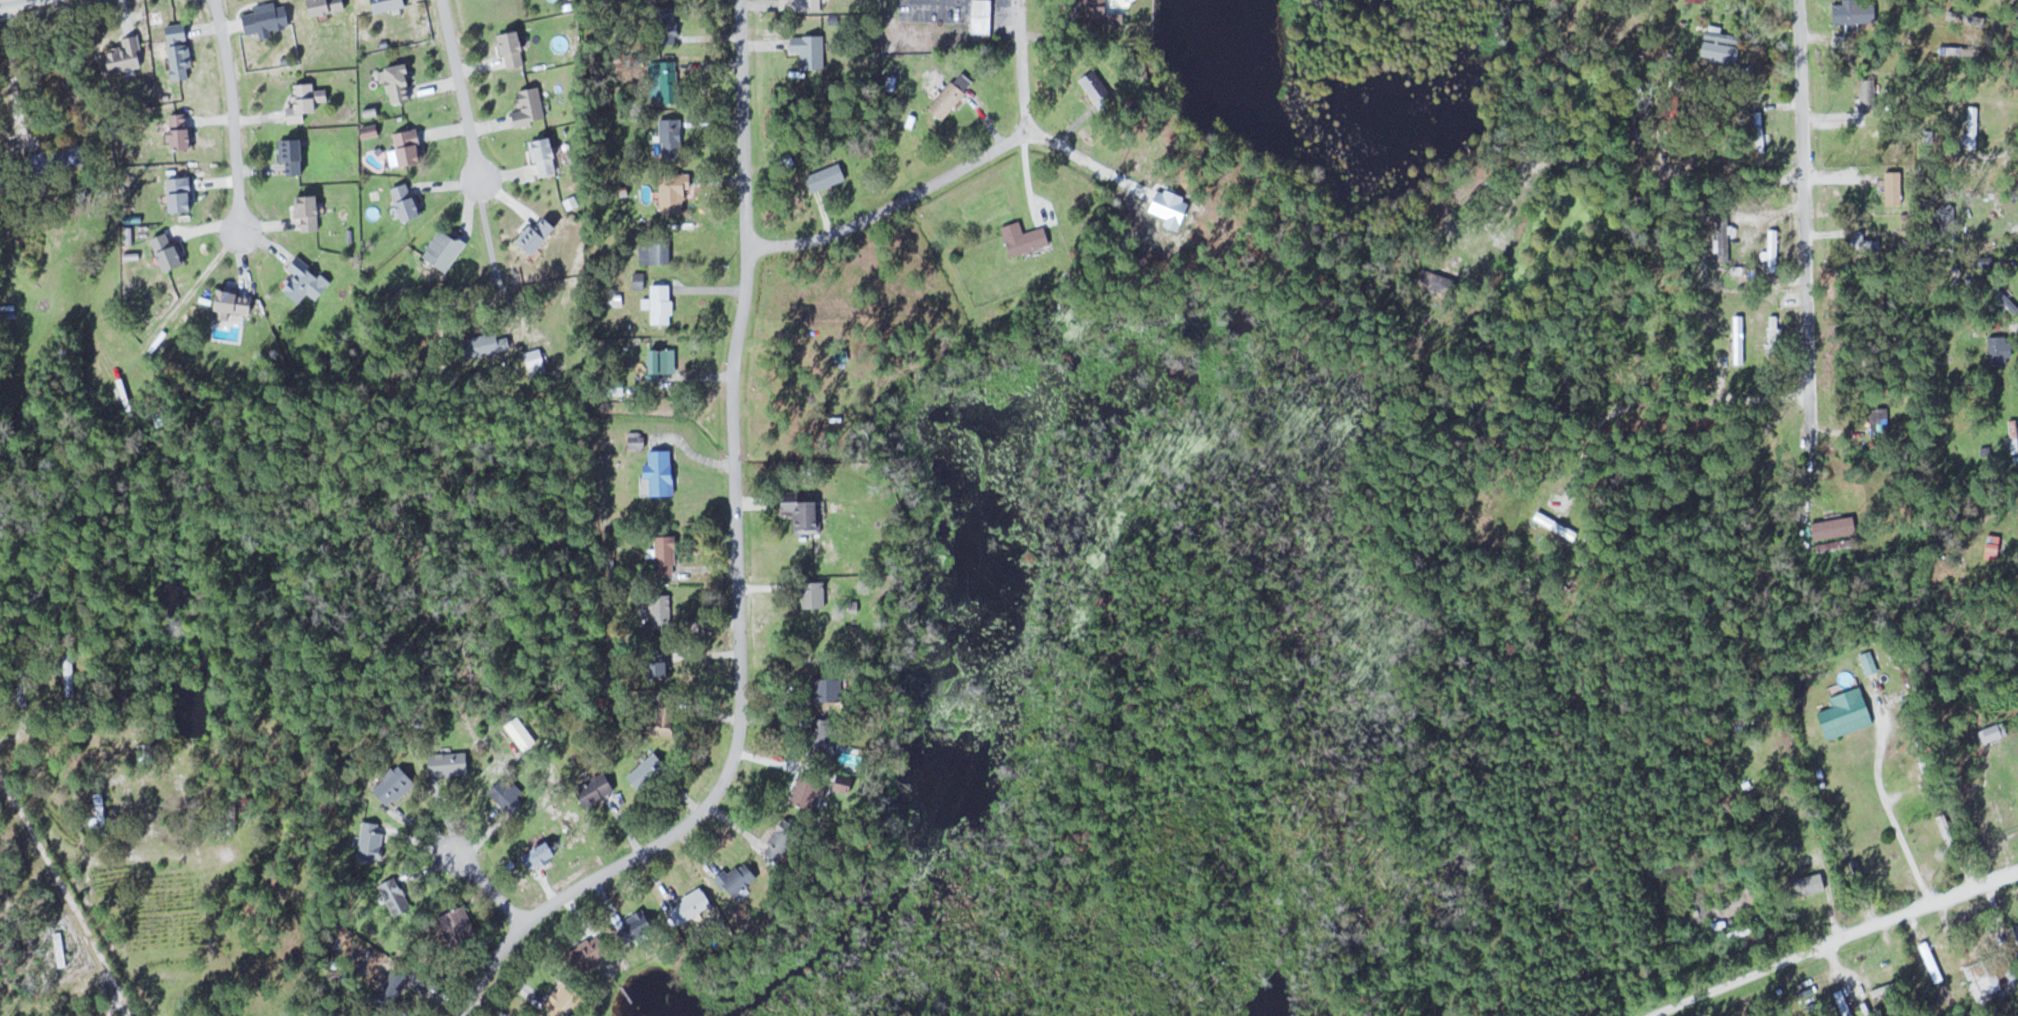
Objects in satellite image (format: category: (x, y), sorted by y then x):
building: (1695, 0)
building: (389, 4)
building: (809, 4)
building: (328, 6)
building: (1856, 11)
building: (1107, 14)
building: (268, 17)
building: (982, 17)
building: (669, 24)
building: (1944, 27)
building: (1723, 46)
building: (515, 48)
building: (180, 50)
building: (812, 50)
building: (127, 54)
building: (400, 81)
building: (671, 81)
building: (1097, 86)
road: (461, 90)
building: (952, 95)
road: (1024, 99)
building: (307, 101)
building: (1867, 104)
building: (530, 107)
road: (231, 112)
building: (1973, 126)
building: (183, 130)
building: (673, 137)
building: (408, 148)
building: (546, 155)
building: (68, 156)
building: (297, 156)
road: (1724, 171)
building: (828, 176)
building: (1895, 186)
building: (680, 192)
building: (182, 193)
building: (408, 201)
road: (893, 202)
building: (311, 212)
road: (1802, 221)
building: (541, 232)
building: (1722, 236)
building: (1026, 237)
building: (1477, 238)
building: (446, 248)
building: (661, 249)
building: (1773, 250)
building: (169, 252)
building: (307, 279)
building: (1445, 283)
building: (235, 302)
building: (663, 303)
building: (1774, 336)
building: (484, 344)
building: (2002, 350)
building: (537, 363)
building: (661, 363)
road: (1649, 407)
building: (1881, 422)
building: (2013, 435)
building: (637, 442)
building: (659, 473)
building: (805, 513)
building: (1556, 525)
building: (1836, 527)
building: (667, 556)
road: (737, 570)
building: (815, 593)
building: (662, 613)
building: (663, 668)
building: (69, 675)
building: (828, 688)
building: (1848, 713)
building: (667, 718)
building: (1908, 730)
building: (520, 731)
building: (823, 737)
building: (148, 752)
building: (450, 764)
building: (2015, 767)
building: (648, 770)
building: (1929, 778)
building: (396, 785)
building: (598, 789)
building: (810, 792)
building: (509, 795)
building: (100, 811)
building: (1948, 832)
building: (783, 838)
building: (372, 840)
building: (542, 856)
road: (57, 869)
building: (738, 878)
building: (1813, 881)
road: (487, 887)
building: (396, 896)
building: (693, 904)
building: (642, 923)
building: (461, 927)
building: (2016, 930)
road: (1831, 940)
building: (592, 952)
building: (62, 956)
building: (1935, 970)
building: (1993, 977)
building: (1888, 988)
building: (393, 989)
building: (566, 999)

